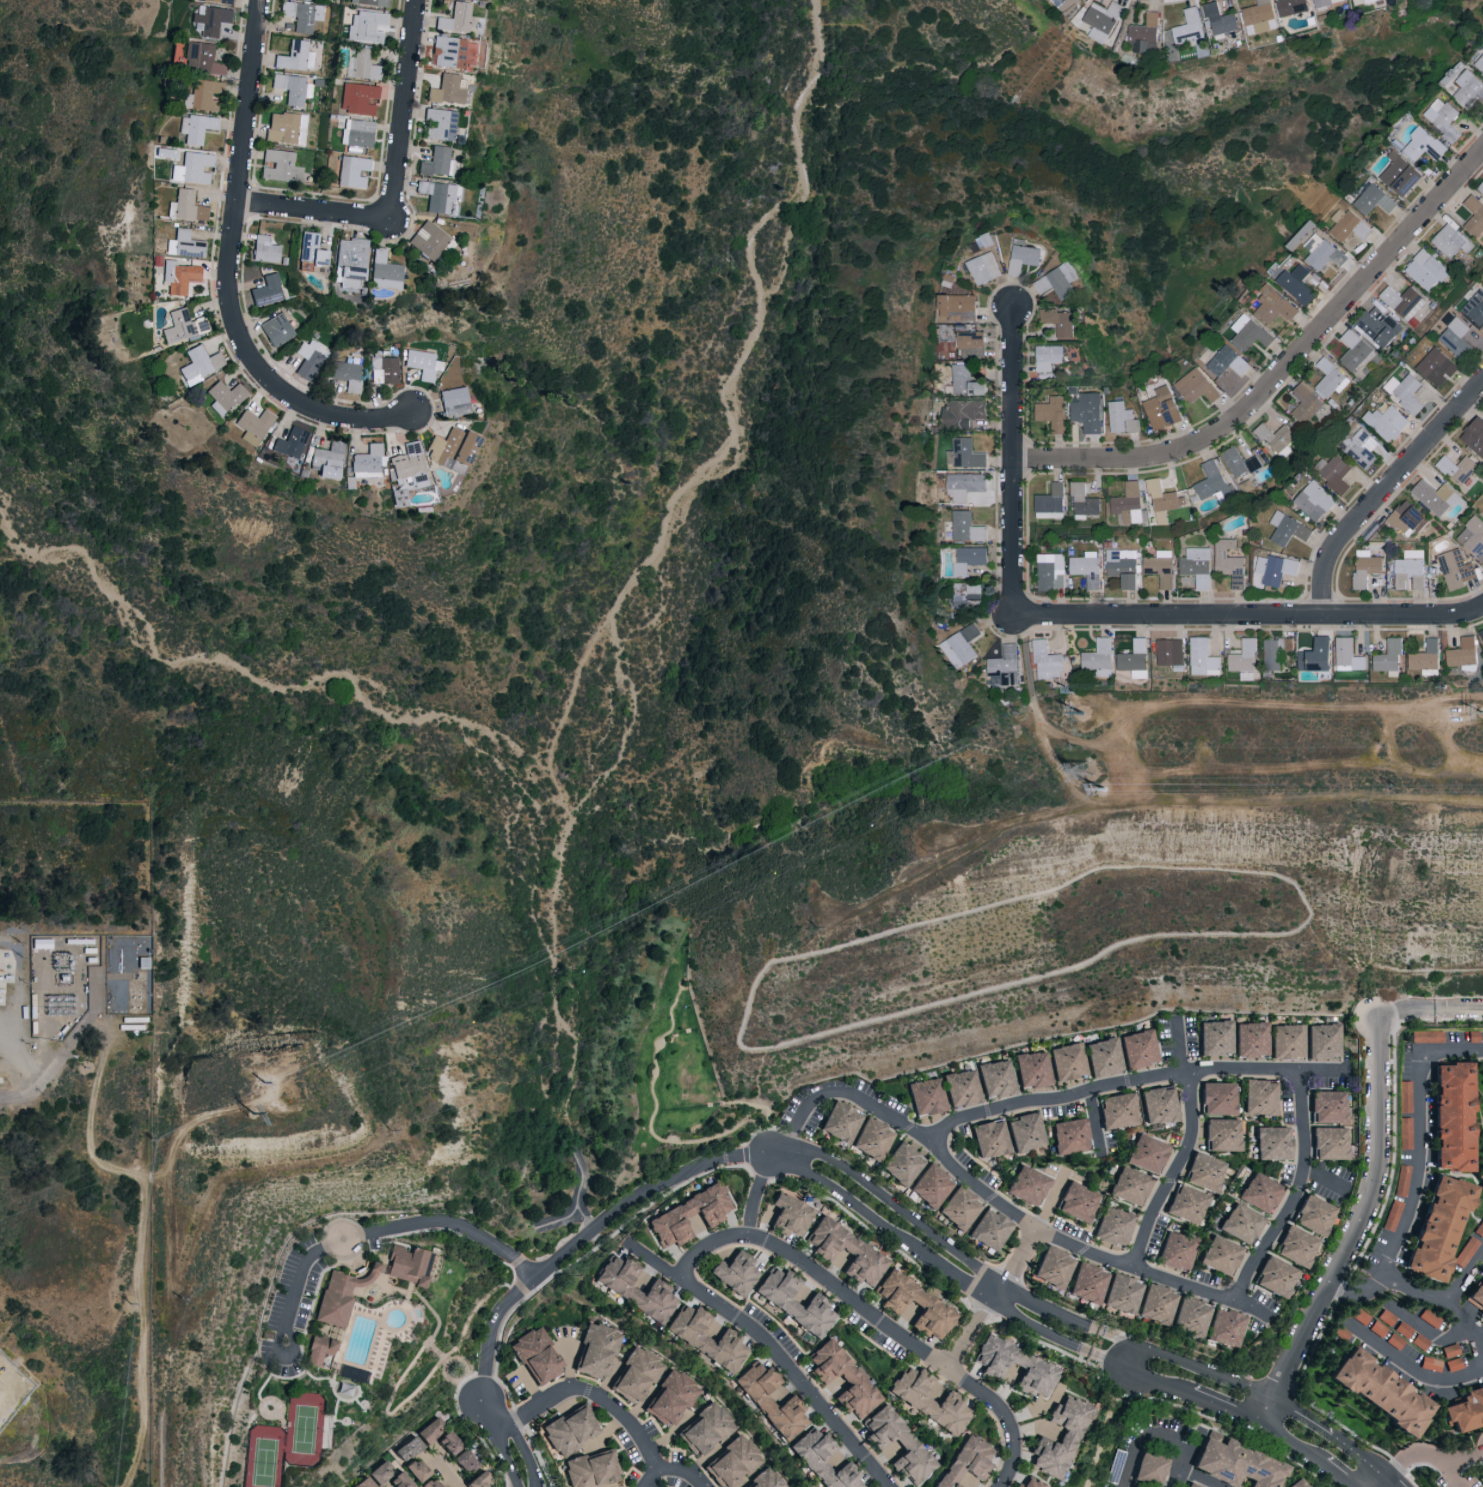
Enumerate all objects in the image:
building: (220, 1)
building: (371, 2)
building: (1325, 2)
building: (1361, 2)
building: (1066, 4)
building: (1291, 7)
building: (303, 14)
building: (454, 17)
building: (1259, 17)
building: (1098, 19)
building: (211, 20)
building: (1219, 21)
building: (365, 26)
building: (1188, 27)
building: (1145, 34)
building: (448, 51)
building: (296, 56)
building: (201, 58)
building: (1479, 64)
building: (364, 65)
building: (293, 87)
building: (447, 89)
building: (1468, 89)
building: (204, 94)
building: (358, 98)
road: (406, 110)
building: (1442, 119)
building: (440, 123)
building: (196, 127)
building: (286, 127)
building: (357, 132)
building: (1420, 146)
building: (437, 162)
building: (192, 166)
building: (281, 166)
building: (352, 171)
building: (1400, 175)
building: (1480, 187)
building: (440, 196)
building: (1374, 200)
building: (186, 205)
road: (316, 213)
building: (1474, 216)
building: (1348, 225)
building: (428, 240)
building: (1451, 241)
building: (184, 244)
building: (264, 249)
building: (310, 249)
building: (1325, 255)
building: (1022, 258)
building: (350, 261)
building: (984, 268)
building: (383, 270)
building: (1425, 270)
building: (180, 276)
road: (234, 277)
building: (1062, 280)
building: (1295, 282)
building: (1042, 285)
building: (266, 290)
building: (1406, 304)
building: (1274, 306)
building: (958, 308)
building: (1475, 308)
building: (1059, 322)
building: (1378, 324)
building: (182, 326)
building: (276, 329)
building: (1250, 332)
building: (1455, 339)
building: (973, 344)
building: (1355, 351)
building: (309, 358)
building: (1046, 359)
building: (1228, 362)
building: (422, 363)
building: (199, 364)
building: (1436, 367)
building: (385, 369)
road: (1281, 371)
building: (347, 374)
building: (1330, 378)
building: (967, 381)
building: (1196, 386)
building: (1405, 392)
building: (223, 396)
building: (453, 401)
building: (1305, 402)
building: (1161, 408)
building: (1086, 412)
building: (1051, 413)
building: (963, 414)
building: (1121, 419)
building: (1386, 422)
building: (253, 425)
building: (1474, 437)
building: (1276, 439)
building: (1361, 447)
building: (453, 449)
building: (287, 450)
building: (965, 454)
building: (327, 460)
building: (368, 461)
building: (1238, 462)
road: (1013, 463)
building: (411, 464)
building: (1457, 468)
building: (1334, 473)
building: (1213, 483)
building: (965, 486)
road: (1384, 492)
building: (1434, 497)
building: (1160, 500)
building: (1314, 501)
building: (1082, 502)
building: (1050, 503)
building: (1126, 504)
building: (1406, 519)
building: (1287, 529)
building: (1472, 538)
building: (969, 560)
building: (1229, 563)
building: (1122, 567)
building: (1196, 567)
building: (1364, 567)
building: (1086, 568)
building: (1160, 568)
building: (1274, 569)
building: (1455, 569)
building: (1409, 570)
building: (1050, 571)
building: (967, 596)
road: (1249, 618)
building: (1481, 633)
building: (962, 646)
building: (1169, 652)
building: (1463, 655)
building: (1315, 656)
building: (1347, 656)
building: (1201, 658)
building: (1097, 659)
building: (1133, 659)
building: (1388, 659)
building: (1424, 659)
building: (1242, 660)
building: (1045, 662)
building: (1004, 667)
road: (1288, 705)
power tower: (1083, 771)
road: (1282, 800)
road: (1028, 820)
road: (1456, 1006)
road: (1402, 1011)
building: (133, 1022)
road: (99, 1031)
building: (1429, 1036)
building: (1214, 1037)
building: (1251, 1039)
building: (1287, 1040)
building: (1323, 1040)
building: (1138, 1047)
building: (1103, 1056)
building: (1067, 1060)
road: (50, 1066)
building: (1032, 1068)
building: (995, 1077)
road: (1133, 1083)
building: (961, 1086)
building: (925, 1095)
building: (1261, 1096)
building: (1406, 1096)
building: (1220, 1098)
building: (1158, 1104)
building: (1331, 1106)
building: (1116, 1109)
building: (1454, 1115)
building: (838, 1120)
road: (88, 1130)
building: (1024, 1130)
building: (1406, 1132)
building: (1068, 1134)
building: (1224, 1134)
building: (870, 1137)
building: (989, 1137)
building: (1275, 1141)
building: (1332, 1143)
road: (1424, 1143)
building: (1146, 1152)
building: (900, 1163)
building: (1206, 1172)
building: (1480, 1174)
road: (1175, 1175)
building: (1403, 1180)
building: (1027, 1184)
building: (930, 1185)
building: (1129, 1185)
building: (1481, 1186)
building: (1261, 1192)
road: (756, 1194)
road: (1295, 1195)
building: (1076, 1201)
road: (1000, 1204)
building: (1187, 1205)
building: (958, 1207)
building: (687, 1214)
building: (786, 1214)
building: (1315, 1214)
road: (1364, 1214)
building: (1394, 1215)
road: (433, 1221)
building: (1244, 1223)
building: (1112, 1226)
building: (1436, 1226)
building: (989, 1228)
building: (1480, 1230)
road: (591, 1236)
road: (939, 1236)
building: (1297, 1245)
building: (845, 1251)
building: (1177, 1251)
building: (1467, 1252)
building: (1222, 1256)
road: (932, 1258)
building: (405, 1264)
road: (1015, 1265)
building: (1052, 1266)
building: (734, 1272)
building: (1277, 1276)
road: (1465, 1281)
road: (298, 1283)
building: (1090, 1283)
road: (173, 1285)
building: (632, 1287)
fountain: (372, 1292)
building: (340, 1293)
building: (1123, 1293)
road: (1355, 1296)
road: (421, 1297)
building: (1474, 1298)
building: (777, 1299)
road: (1439, 1300)
building: (1158, 1302)
building: (913, 1304)
road: (143, 1314)
building: (1362, 1316)
building: (1191, 1317)
building: (1430, 1317)
building: (1388, 1318)
road: (875, 1320)
building: (1227, 1326)
building: (1379, 1328)
building: (1404, 1328)
building: (1342, 1332)
road: (964, 1333)
building: (704, 1338)
building: (1395, 1340)
building: (1420, 1341)
building: (319, 1348)
building: (594, 1349)
building: (1450, 1349)
building: (535, 1355)
road: (774, 1355)
road: (1132, 1355)
road: (287, 1358)
road: (450, 1359)
road: (1190, 1362)
building: (1030, 1363)
building: (1430, 1363)
building: (1453, 1363)
road: (1419, 1370)
building: (351, 1373)
building: (633, 1374)
building: (841, 1378)
road: (1179, 1388)
road: (593, 1393)
building: (1385, 1393)
building: (669, 1397)
road: (0, 1398)
building: (928, 1399)
building: (769, 1400)
building: (1464, 1408)
road: (1269, 1409)
road: (493, 1411)
road: (385, 1413)
park: (304, 1427)
building: (568, 1429)
building: (425, 1433)
building: (1059, 1436)
road: (1336, 1437)
road: (1293, 1439)
road: (1178, 1441)
building: (447, 1442)
building: (896, 1444)
building: (725, 1451)
building: (810, 1452)
road: (525, 1453)
road: (1431, 1453)
park: (264, 1456)
road: (507, 1457)
building: (461, 1459)
building: (965, 1461)
building: (1235, 1462)
road: (1127, 1464)
building: (591, 1468)
building: (1149, 1468)
building: (414, 1469)
road: (444, 1469)
building: (378, 1470)
road: (670, 1470)
road: (1337, 1472)
road: (1451, 1472)
road: (1199, 1478)
building: (398, 1480)
building: (476, 1480)
building: (362, 1482)
building: (427, 1483)
building: (1028, 1483)
building: (1300, 1483)
road: (1392, 1484)
road: (1396, 1484)
building: (1191, 1485)

